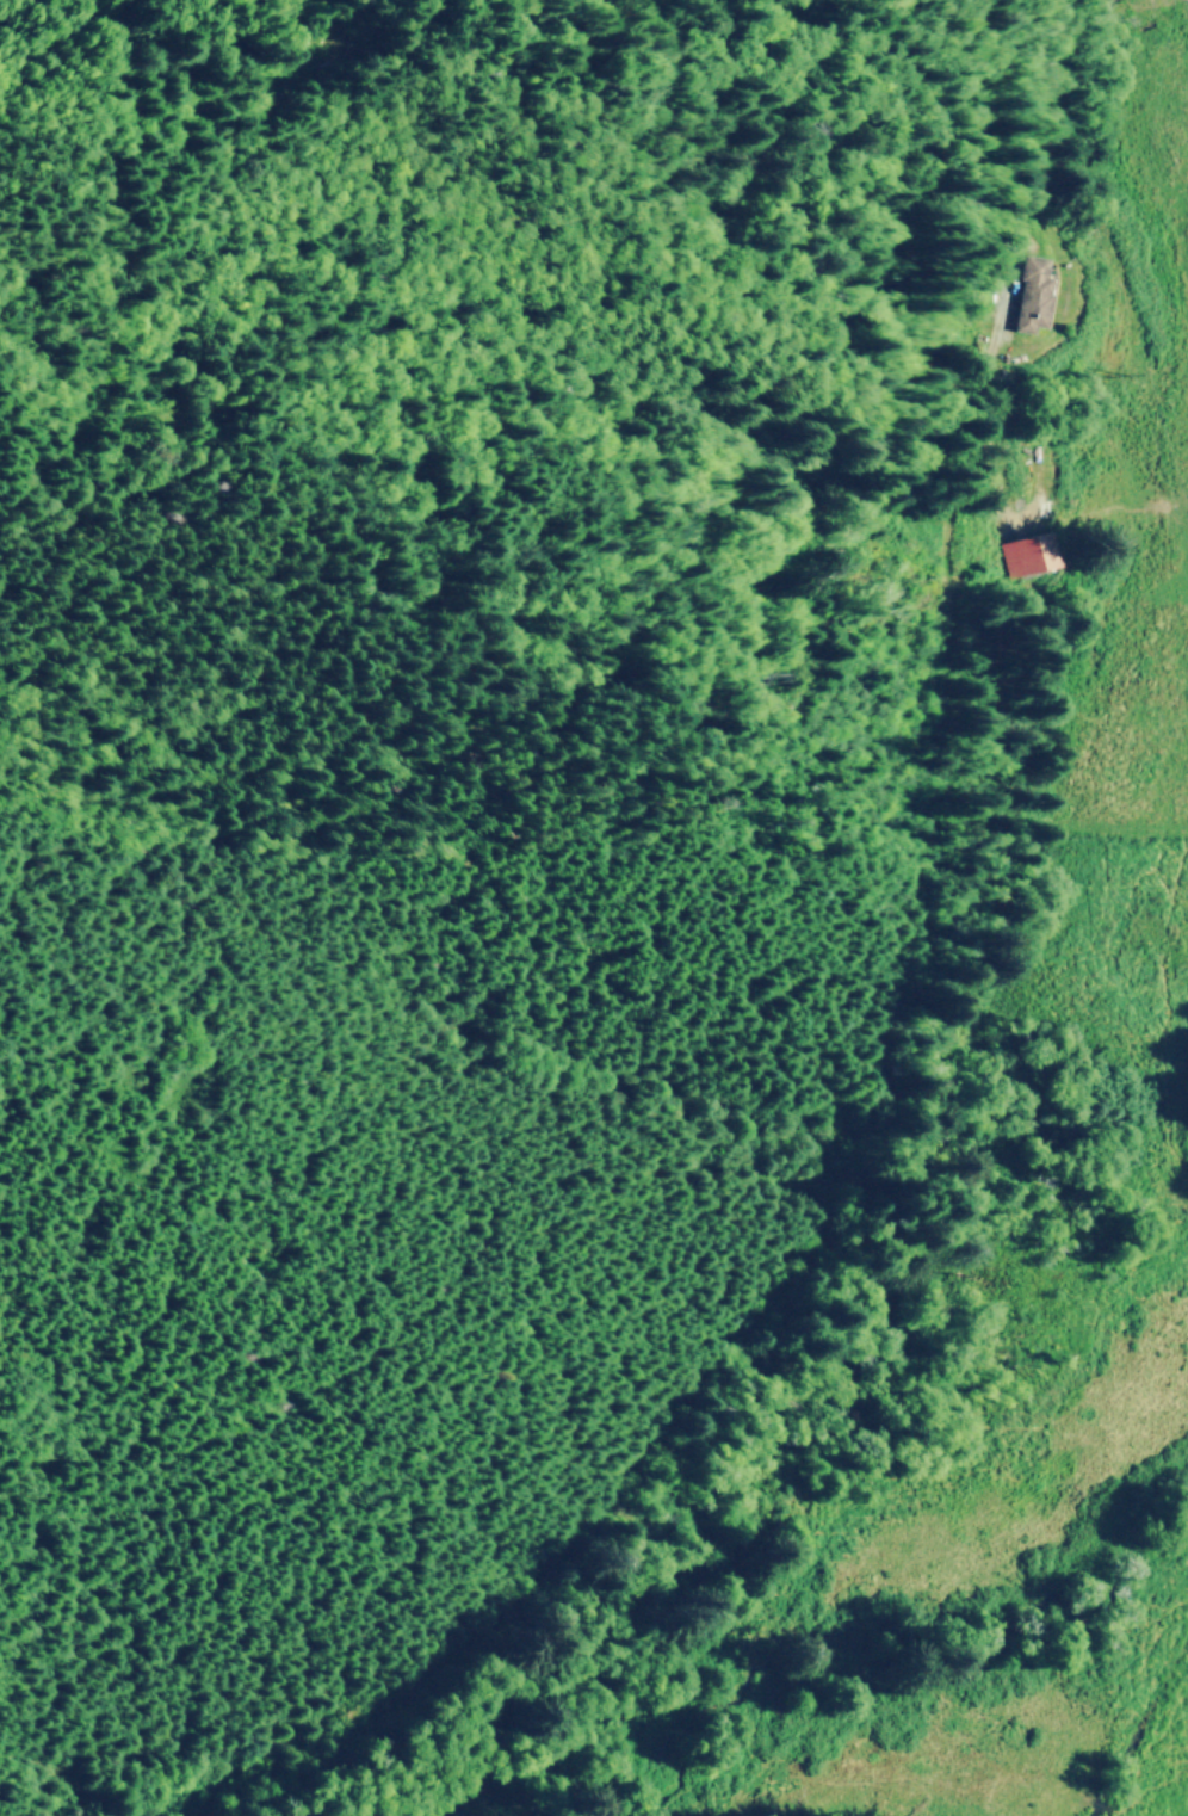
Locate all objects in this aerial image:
building: (1027, 278)
road: (208, 378)
building: (1025, 552)
crop: (1120, 716)

